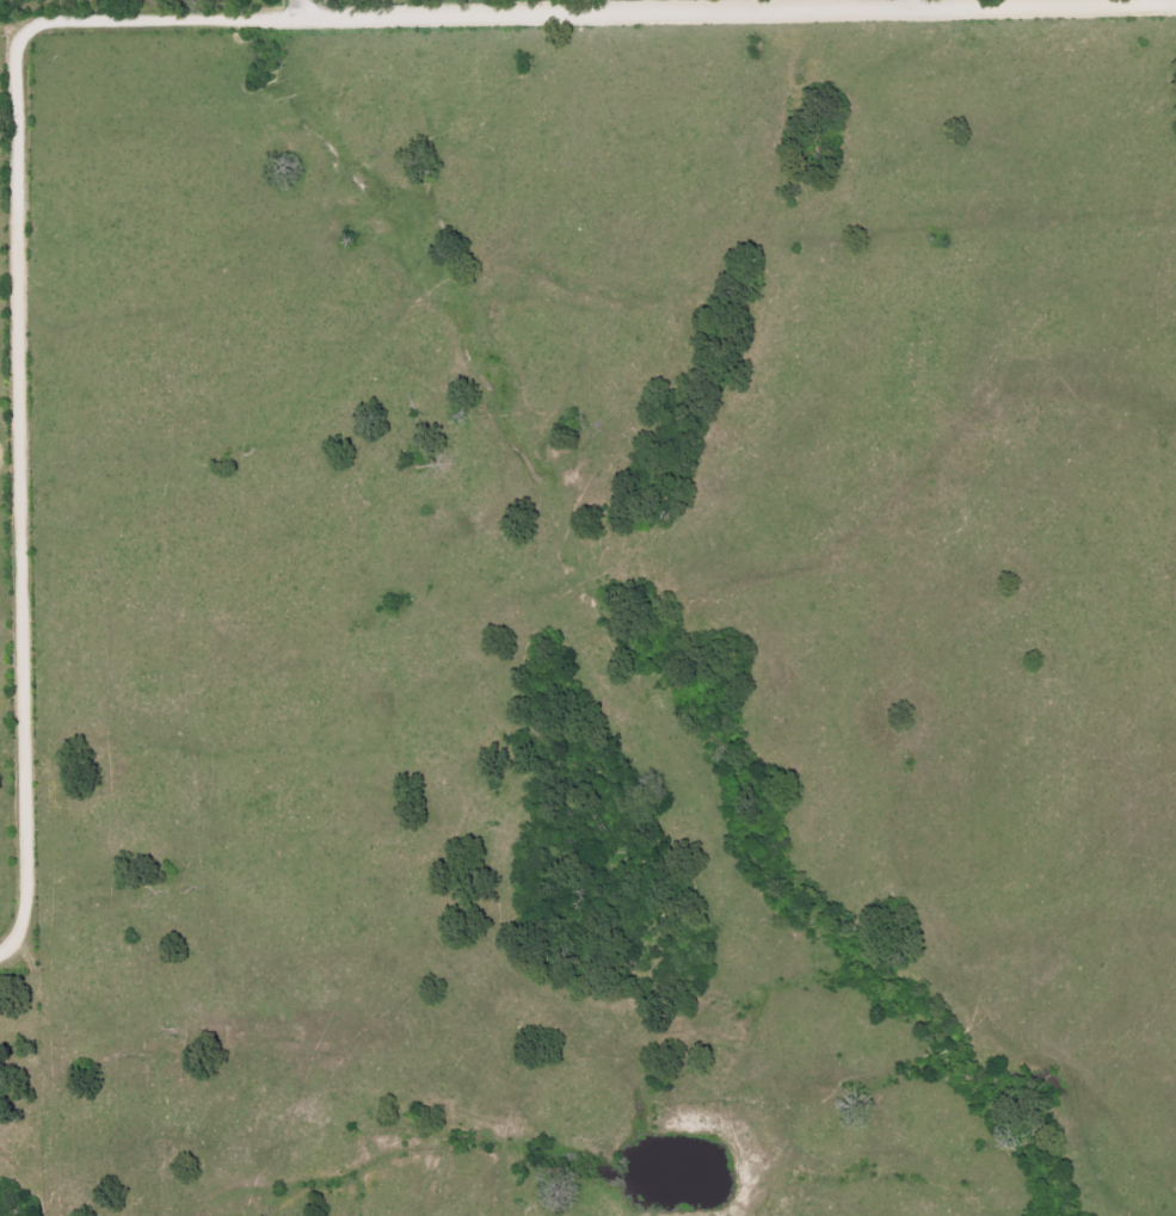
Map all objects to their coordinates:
road: (910, 4)
road: (296, 8)
road: (133, 20)
road: (0, 955)

